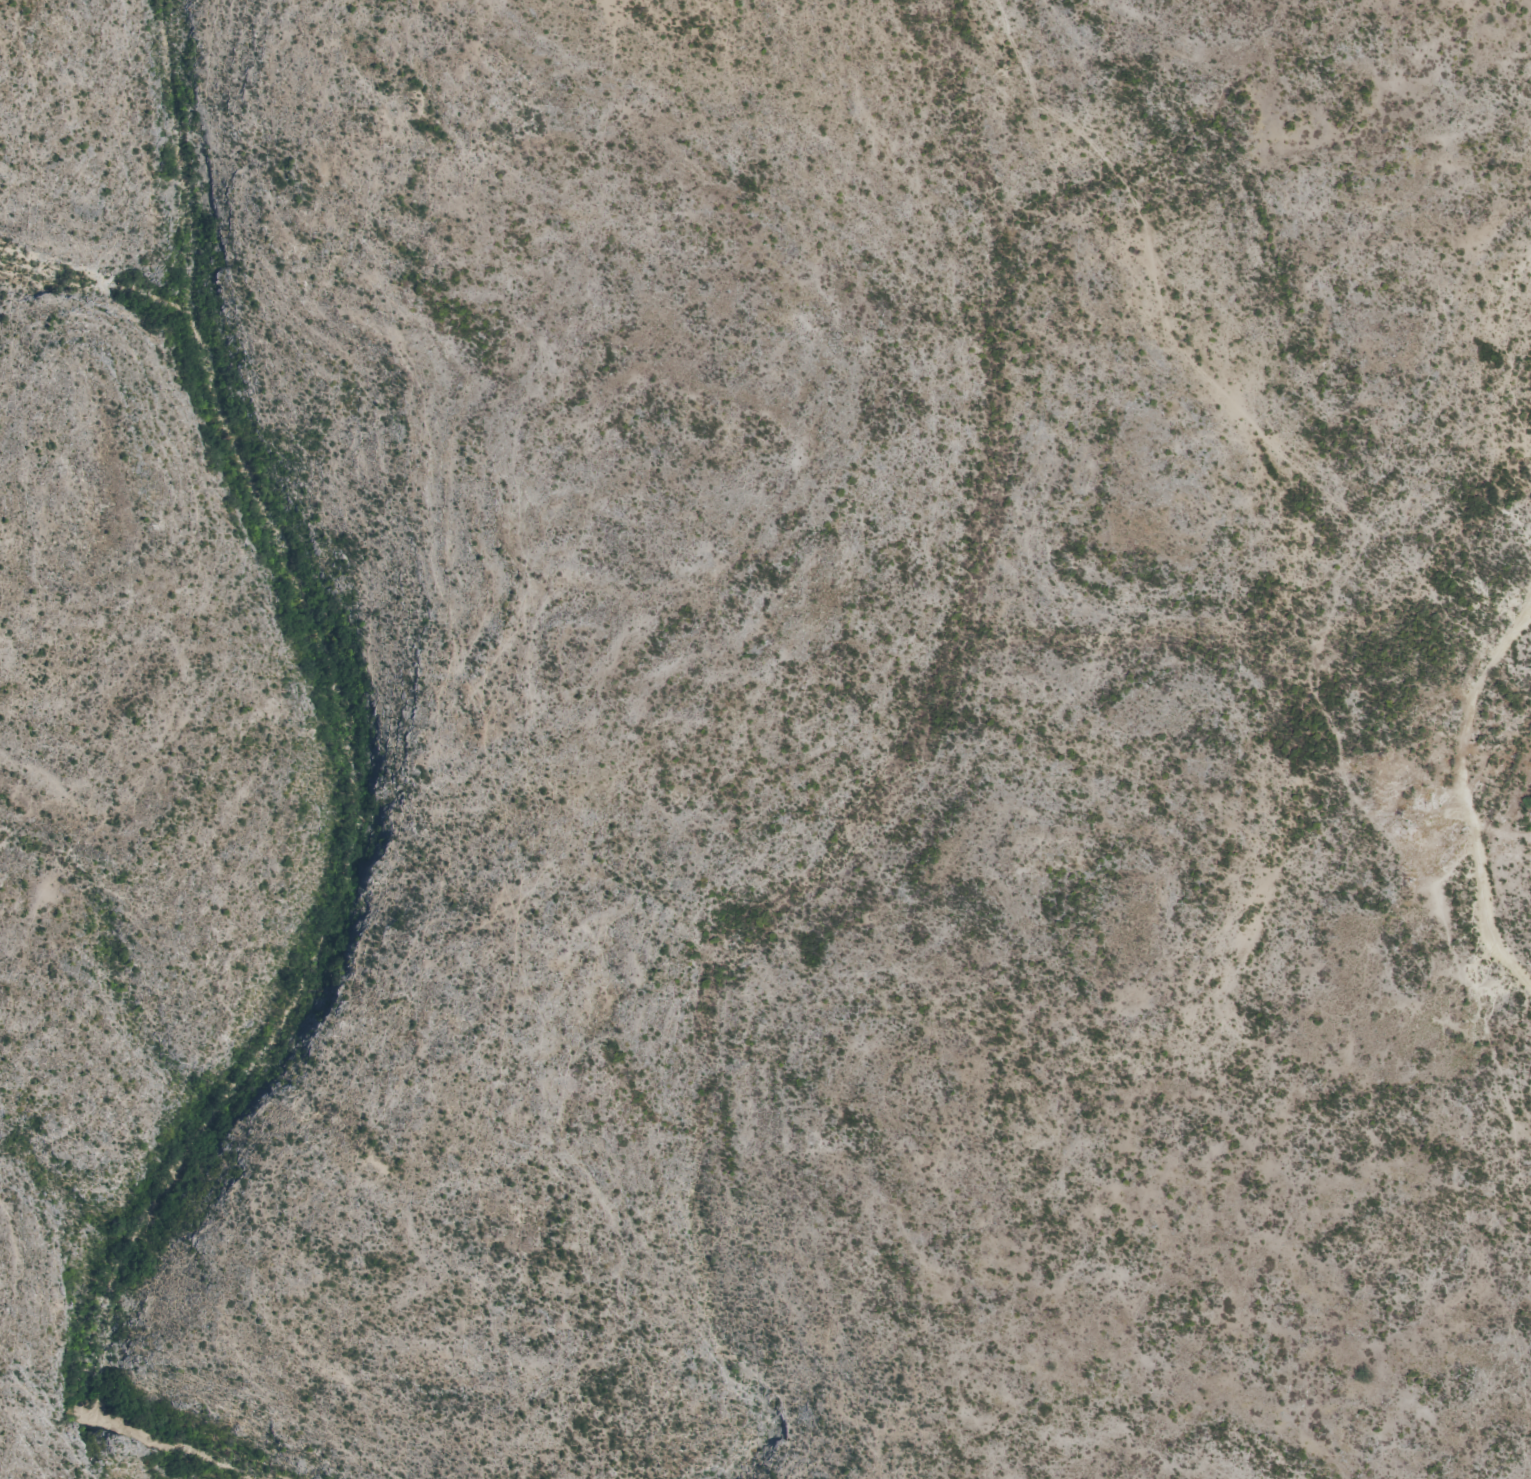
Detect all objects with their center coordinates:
road: (1226, 382)

